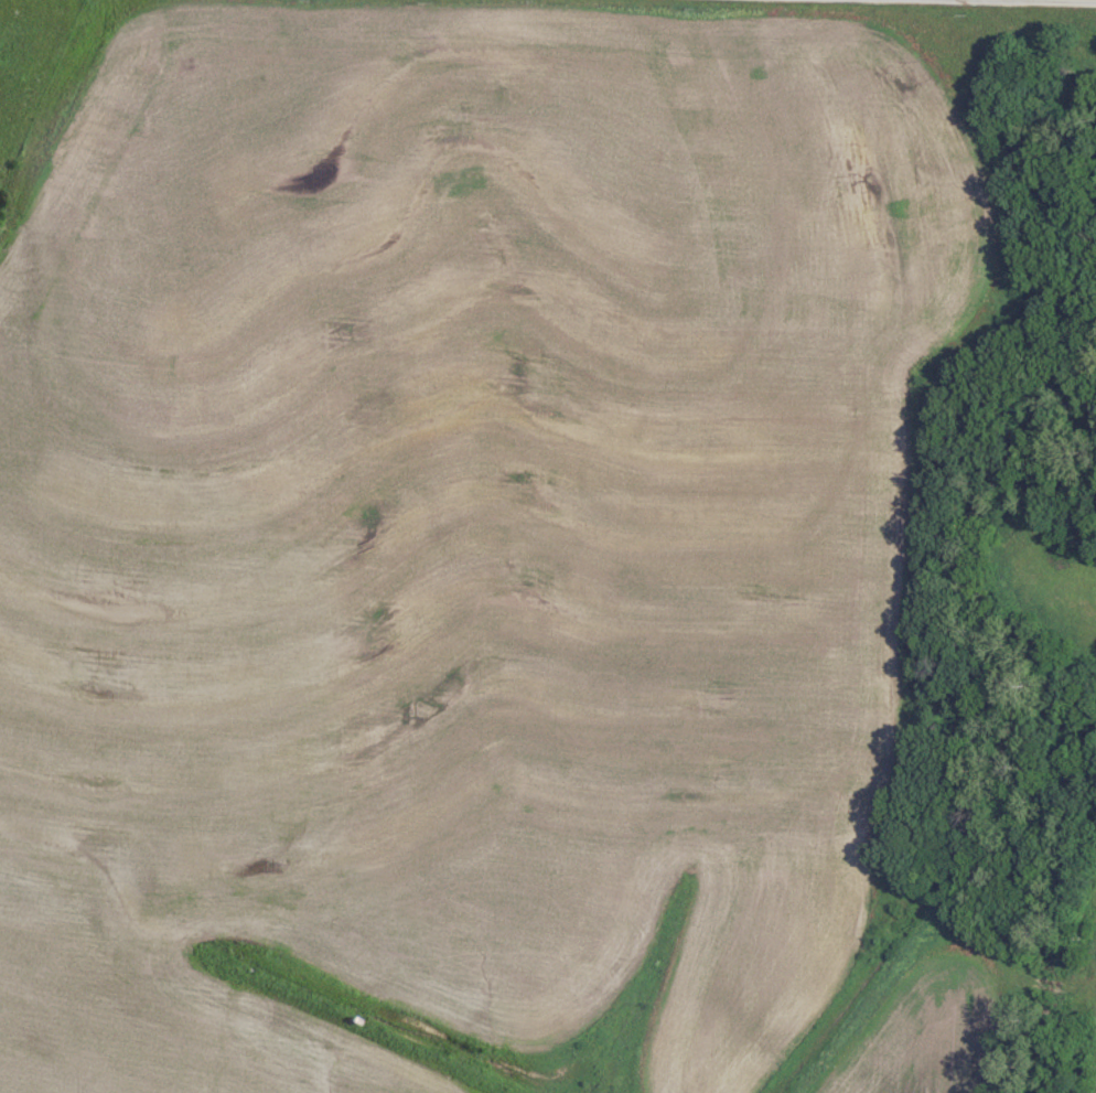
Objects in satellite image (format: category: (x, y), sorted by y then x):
road: (1020, 2)

